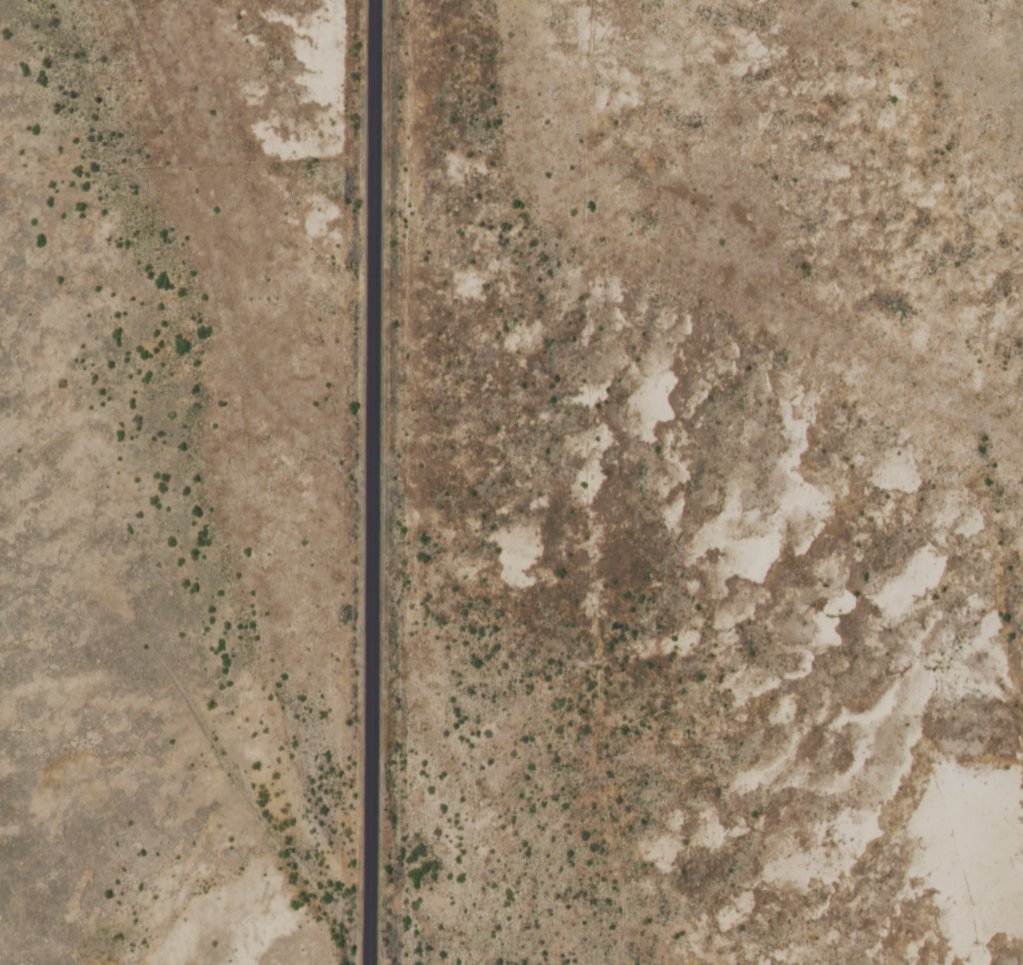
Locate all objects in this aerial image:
road: (370, 482)

